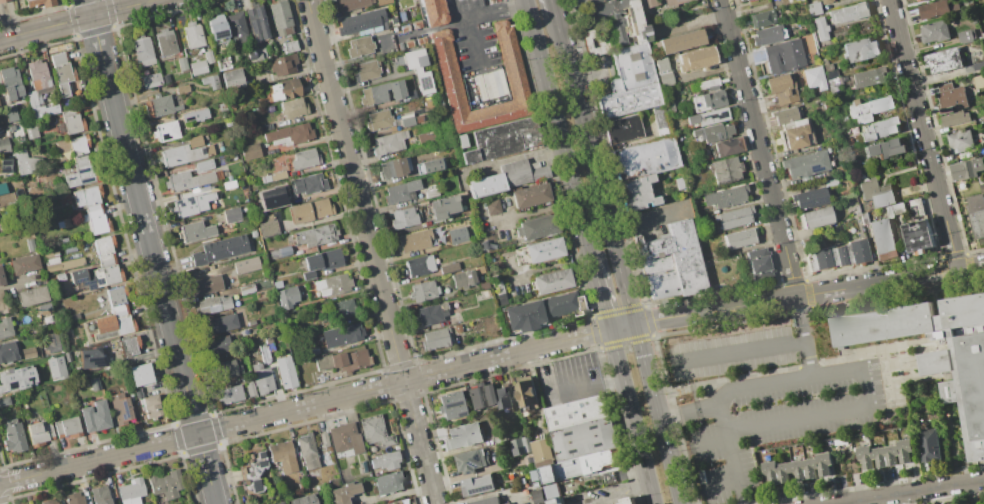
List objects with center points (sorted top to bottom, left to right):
building: (739, 0)
building: (741, 0)
building: (918, 0)
building: (4, 1)
road: (145, 1)
building: (576, 1)
building: (592, 1)
building: (795, 1)
building: (825, 1)
building: (38, 2)
building: (382, 2)
building: (673, 2)
building: (645, 3)
road: (89, 4)
building: (349, 4)
road: (554, 4)
road: (88, 8)
building: (813, 8)
building: (936, 8)
building: (432, 12)
road: (497, 12)
building: (849, 12)
road: (118, 14)
road: (92, 15)
building: (280, 17)
building: (762, 18)
building: (618, 20)
building: (360, 21)
building: (255, 22)
building: (236, 26)
road: (66, 27)
building: (820, 28)
building: (217, 29)
building: (933, 31)
road: (19, 34)
building: (192, 34)
rooftop solar panel: (221, 34)
building: (768, 35)
building: (965, 35)
building: (602, 41)
building: (677, 41)
building: (165, 42)
building: (807, 42)
building: (290, 46)
building: (359, 46)
road: (476, 48)
building: (40, 49)
building: (859, 49)
building: (142, 51)
building: (256, 54)
building: (783, 55)
building: (208, 57)
building: (695, 58)
building: (943, 60)
building: (181, 63)
building: (223, 63)
building: (282, 64)
building: (978, 65)
building: (632, 66)
building: (197, 67)
building: (417, 69)
building: (365, 70)
building: (513, 70)
building: (661, 71)
rooftop solar panel: (1, 73)
building: (62, 73)
building: (869, 76)
building: (166, 78)
building: (151, 80)
building: (232, 80)
building: (210, 81)
building: (10, 83)
rooftop solar panel: (423, 83)
building: (706, 84)
building: (830, 85)
building: (781, 88)
building: (38, 89)
building: (181, 89)
building: (284, 89)
building: (382, 92)
building: (411, 95)
building: (950, 98)
building: (626, 99)
building: (706, 100)
building: (159, 105)
building: (440, 106)
building: (669, 106)
building: (867, 107)
building: (292, 108)
building: (10, 114)
building: (194, 115)
building: (784, 115)
building: (659, 116)
rooftop solar panel: (714, 116)
building: (707, 117)
building: (954, 118)
building: (378, 119)
building: (410, 119)
building: (72, 120)
building: (841, 122)
building: (622, 128)
building: (880, 128)
building: (165, 130)
building: (712, 131)
building: (31, 132)
road: (561, 132)
building: (793, 133)
building: (289, 134)
road: (922, 134)
building: (425, 138)
building: (502, 139)
building: (959, 141)
building: (389, 142)
building: (3, 145)
building: (727, 146)
road: (759, 148)
building: (885, 148)
building: (249, 151)
building: (185, 152)
building: (644, 158)
building: (304, 159)
building: (77, 160)
building: (25, 161)
building: (804, 163)
building: (203, 164)
building: (5, 165)
rooftop solar panel: (5, 165)
building: (430, 165)
building: (393, 167)
rooftop solar panel: (814, 167)
rooftop solar panel: (84, 169)
building: (725, 169)
building: (966, 169)
building: (526, 173)
rooftop solar panel: (70, 178)
building: (186, 180)
rooftop solar panel: (88, 181)
building: (308, 183)
building: (492, 184)
building: (2, 188)
building: (400, 191)
building: (636, 192)
building: (431, 193)
building: (875, 193)
building: (530, 195)
building: (725, 196)
building: (809, 197)
building: (974, 203)
rooftop solar panel: (812, 205)
building: (185, 207)
building: (442, 207)
building: (492, 207)
building: (91, 208)
building: (898, 208)
building: (916, 208)
building: (310, 210)
building: (259, 213)
road: (608, 213)
building: (231, 214)
building: (733, 216)
building: (403, 217)
building: (815, 217)
building: (65, 223)
road: (650, 223)
building: (976, 223)
building: (269, 224)
building: (537, 227)
building: (195, 231)
building: (313, 235)
building: (456, 235)
building: (918, 236)
building: (880, 237)
building: (738, 238)
building: (414, 240)
building: (29, 244)
building: (219, 249)
building: (857, 250)
building: (284, 251)
building: (538, 251)
road: (370, 252)
building: (846, 253)
building: (832, 255)
building: (839, 255)
building: (821, 258)
building: (58, 261)
building: (322, 261)
building: (669, 262)
building: (810, 262)
building: (23, 263)
road: (154, 263)
building: (758, 263)
building: (418, 265)
building: (99, 267)
building: (448, 267)
building: (226, 268)
building: (480, 270)
building: (463, 278)
building: (1, 279)
rooftop solar panel: (79, 281)
rooftop solar panel: (99, 281)
building: (551, 281)
rooftop solar panel: (91, 284)
building: (206, 285)
building: (330, 285)
building: (484, 286)
building: (246, 288)
building: (423, 290)
road: (810, 294)
building: (116, 295)
building: (32, 296)
building: (287, 296)
road: (604, 297)
building: (3, 303)
building: (211, 304)
building: (560, 305)
building: (44, 308)
building: (342, 308)
building: (430, 313)
building: (522, 315)
building: (74, 316)
building: (111, 323)
building: (219, 323)
building: (5, 327)
building: (456, 328)
building: (348, 333)
road: (806, 337)
building: (434, 339)
building: (51, 342)
building: (128, 345)
building: (216, 345)
building: (327, 348)
building: (266, 349)
building: (7, 351)
building: (27, 352)
road: (739, 352)
building: (936, 352)
parking lot: (730, 354)
building: (343, 360)
building: (55, 368)
building: (226, 368)
building: (285, 371)
building: (140, 374)
building: (261, 378)
building: (17, 379)
building: (94, 383)
building: (55, 389)
road: (588, 389)
road: (735, 389)
building: (250, 390)
building: (137, 392)
building: (525, 392)
building: (229, 394)
building: (479, 396)
building: (502, 397)
building: (4, 401)
road: (318, 402)
rooftop solar panel: (453, 404)
building: (450, 405)
building: (150, 406)
road: (630, 406)
building: (119, 408)
building: (577, 411)
road: (689, 411)
rooftop solar panel: (460, 413)
road: (814, 414)
building: (94, 416)
rooftop solar panel: (125, 416)
parking lot: (776, 421)
building: (66, 428)
building: (374, 430)
building: (38, 433)
building: (462, 435)
building: (13, 436)
building: (502, 437)
building: (345, 438)
building: (323, 439)
building: (586, 443)
road: (710, 445)
building: (929, 445)
building: (519, 446)
building: (306, 450)
building: (542, 452)
rooftop solar panel: (260, 454)
building: (883, 454)
building: (281, 456)
rooftop solar panel: (477, 457)
building: (385, 460)
building: (470, 460)
road: (670, 461)
rooftop solar panel: (260, 462)
rooftop solar panel: (473, 464)
building: (796, 469)
building: (561, 470)
rooftop solar panel: (470, 471)
building: (252, 473)
building: (387, 482)
building: (165, 484)
building: (477, 484)
rooftop solar panel: (254, 485)
building: (535, 485)
road: (719, 486)
building: (302, 487)
building: (131, 491)
building: (550, 491)
road: (914, 492)
building: (342, 493)
road: (613, 493)
building: (100, 494)
road: (653, 494)
parking lot: (602, 495)
building: (536, 496)
building: (74, 498)
building: (301, 499)
building: (486, 500)
building: (557, 501)
building: (627, 501)
building: (48, 502)
building: (398, 502)
building: (33, 503)
building: (277, 503)
building: (506, 503)

